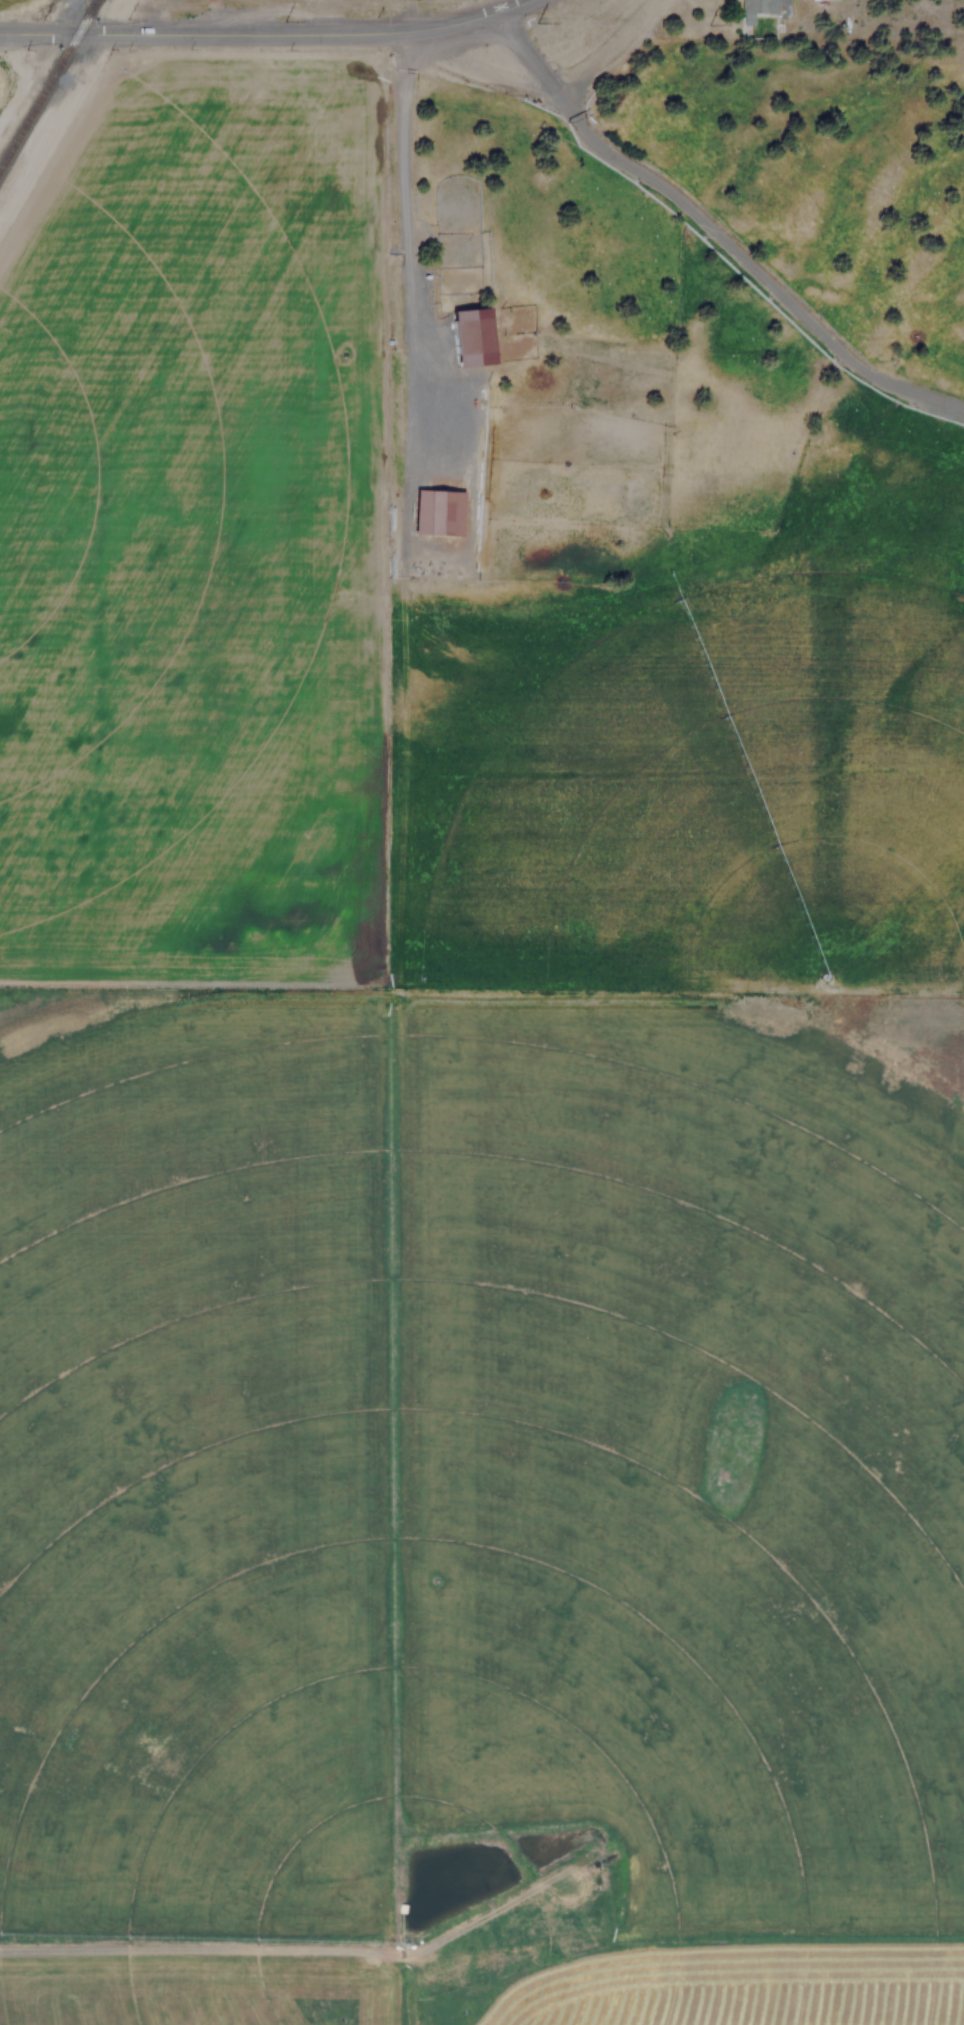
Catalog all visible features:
building: (753, 9)
road: (415, 16)
road: (268, 33)
railway: (49, 86)
road: (716, 230)
road: (408, 298)
building: (465, 337)
building: (434, 512)
crop: (473, 1536)
road: (311, 1950)

